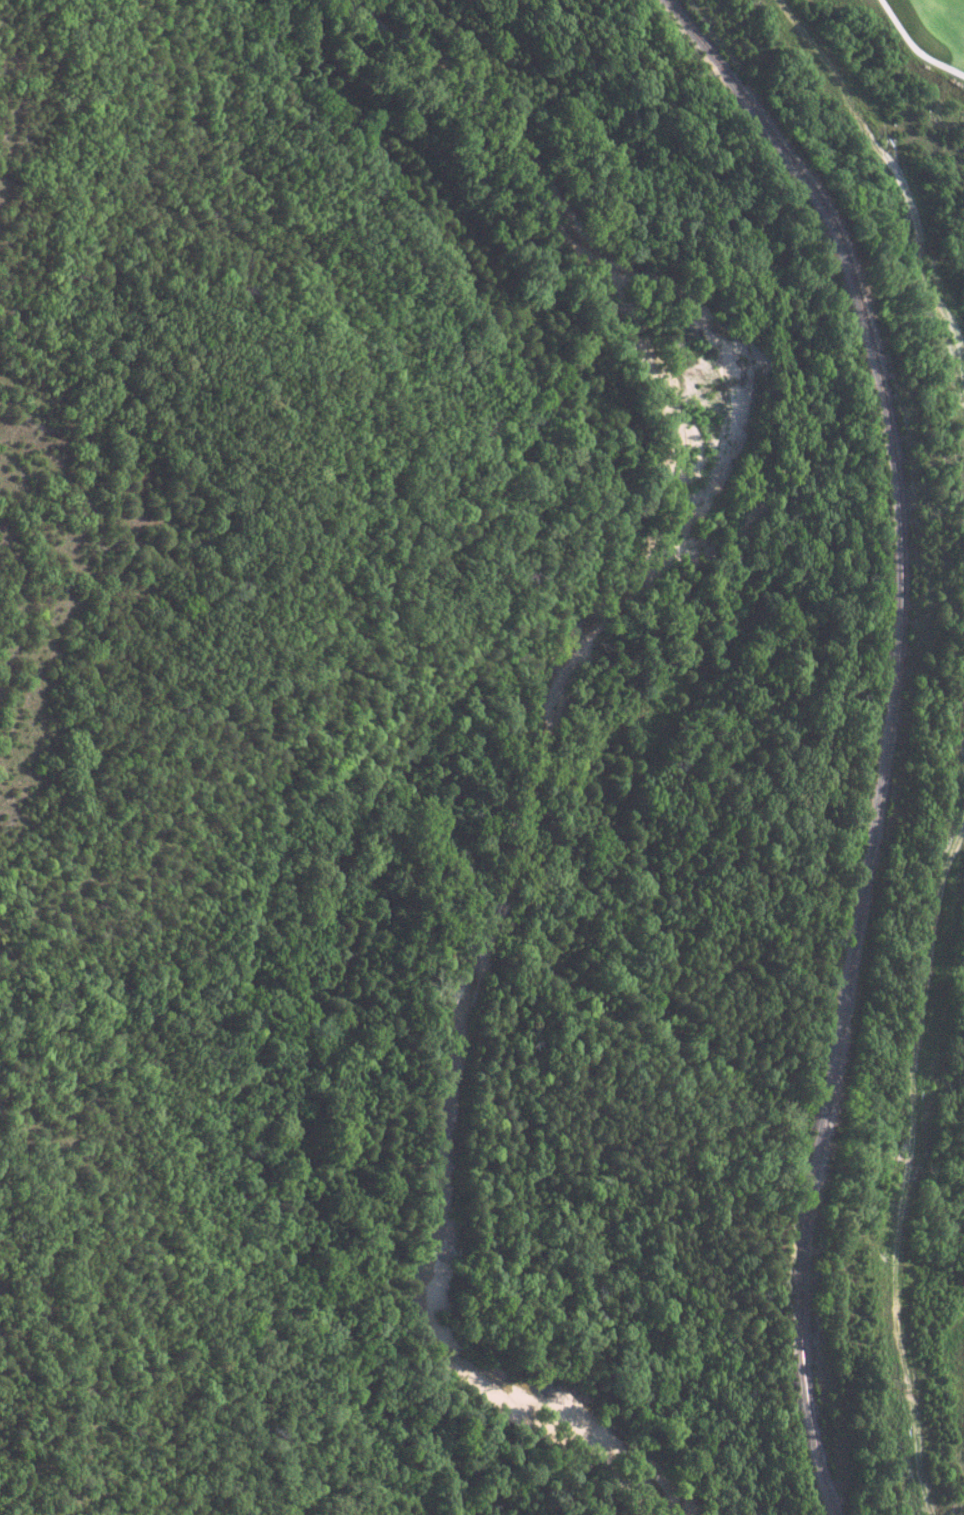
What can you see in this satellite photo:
road: (912, 49)
park: (889, 206)
railway: (890, 731)
park: (944, 1209)

